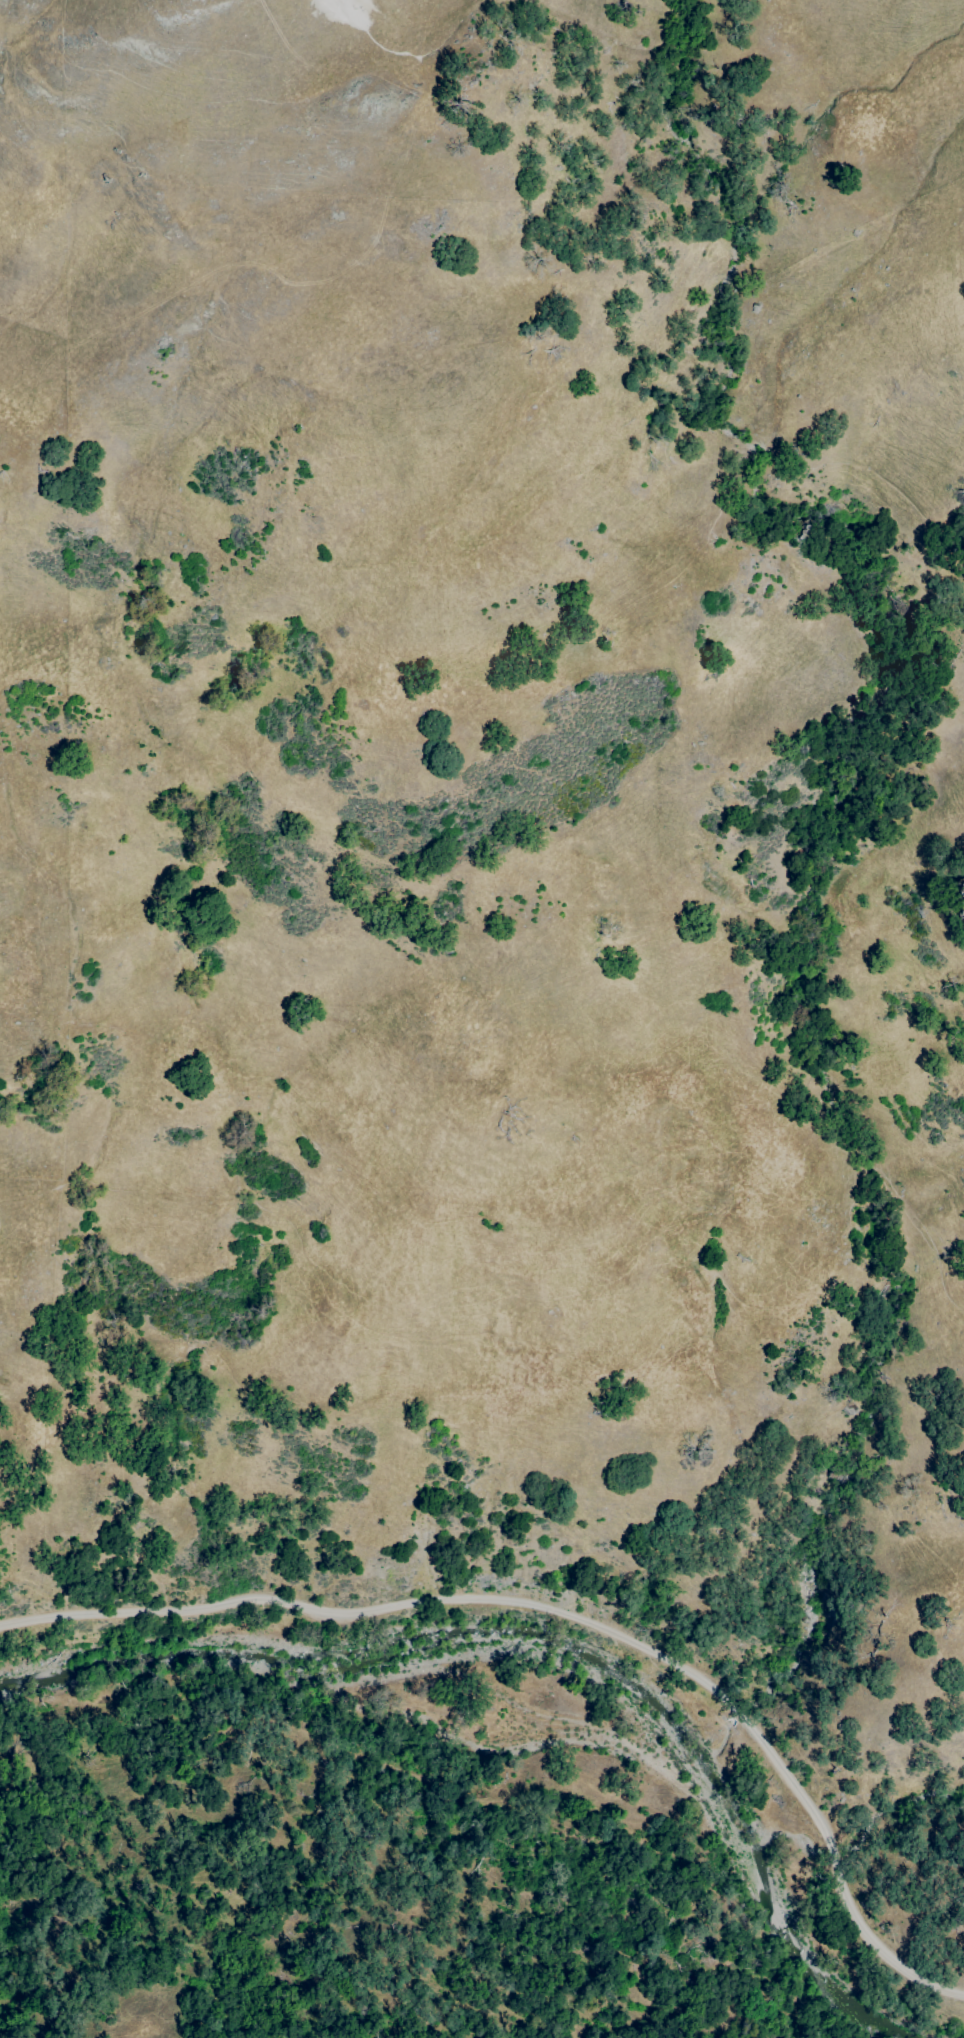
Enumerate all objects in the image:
road: (563, 1619)
river: (357, 1654)
river: (747, 1932)

